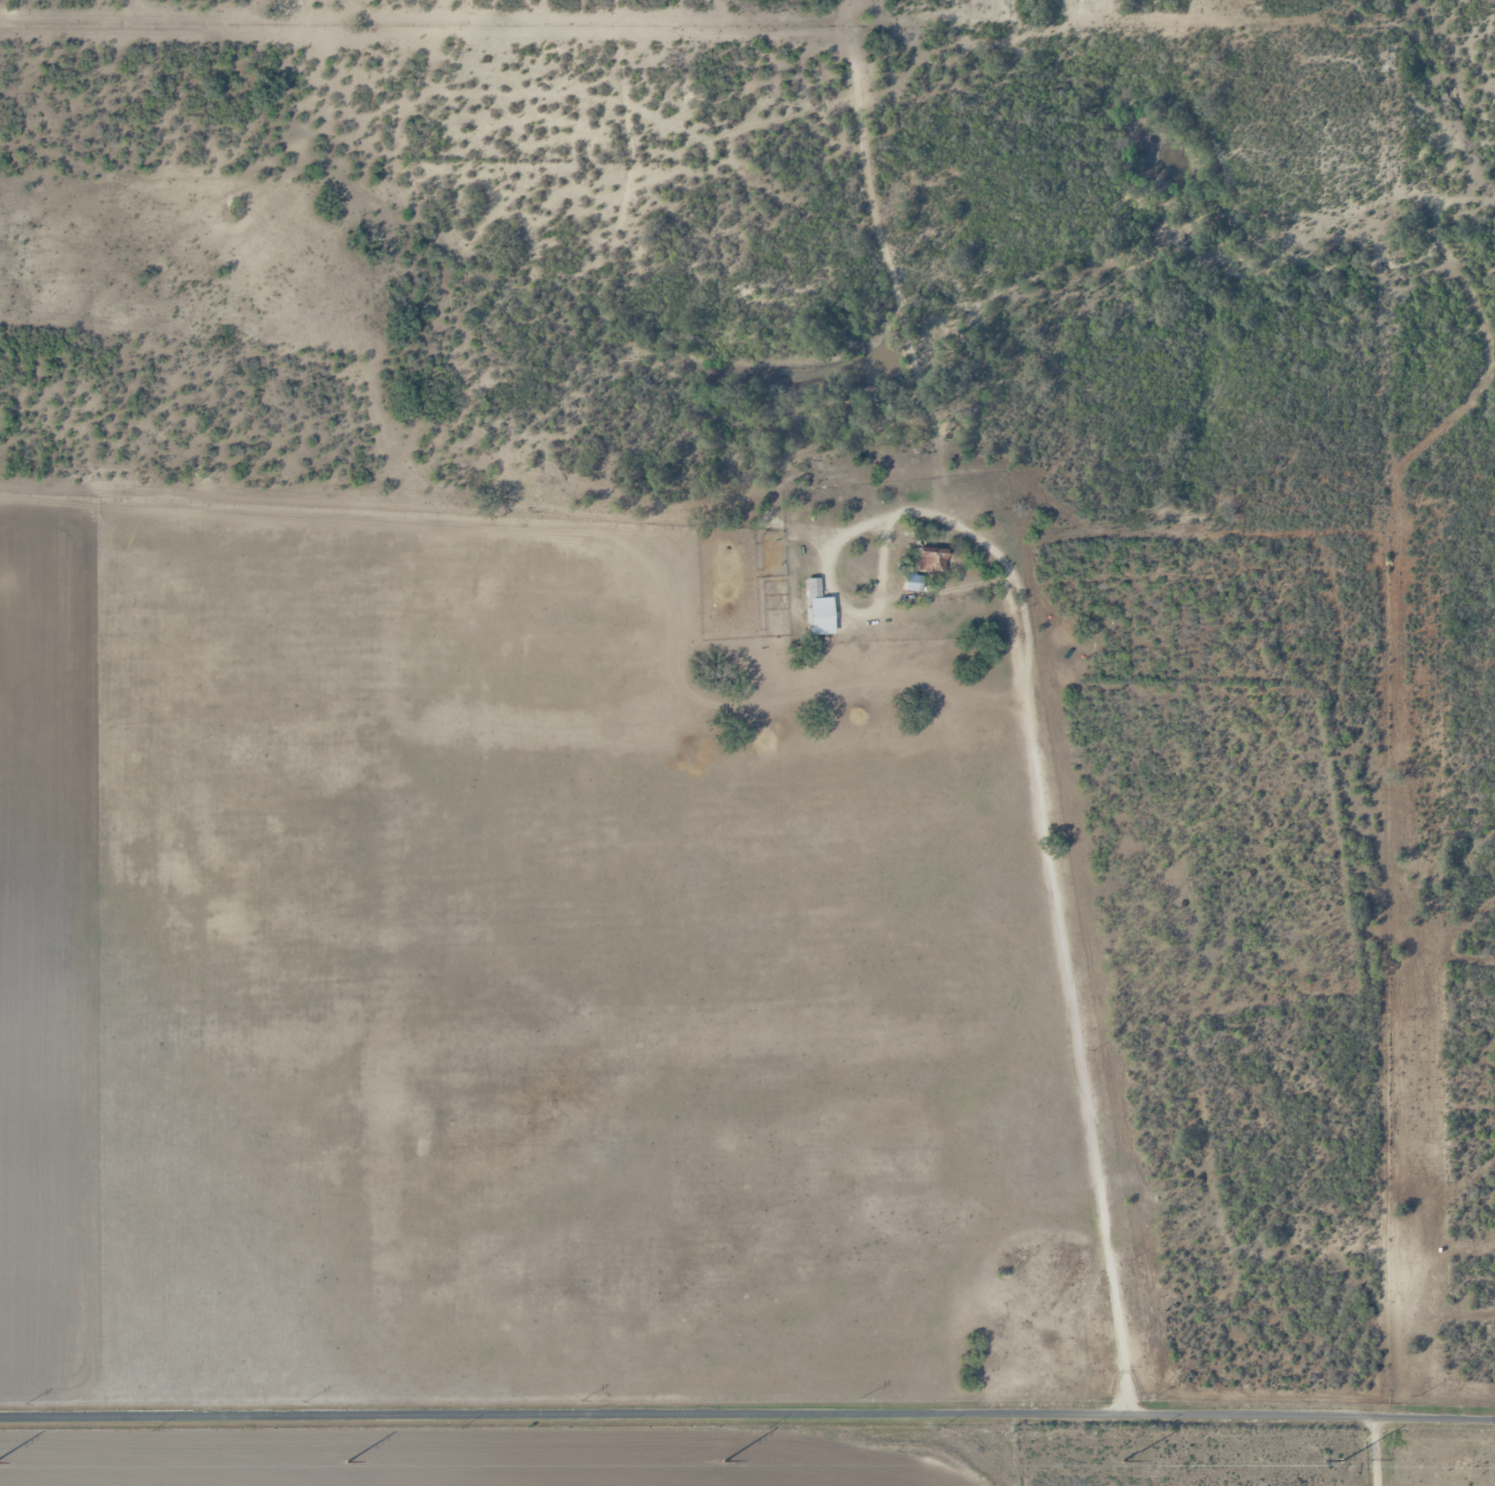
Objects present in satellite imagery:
building: (931, 561)
building: (920, 584)
building: (813, 588)
road: (1025, 672)
power tower: (1418, 1394)
power tower: (1153, 1396)
power tower: (861, 1398)
power tower: (584, 1399)
power tower: (306, 1402)
power tower: (27, 1404)
road: (747, 1414)
road: (1408, 1451)
power tower: (1344, 1458)
power tower: (346, 1461)
power tower: (723, 1461)
power tower: (1120, 1461)

